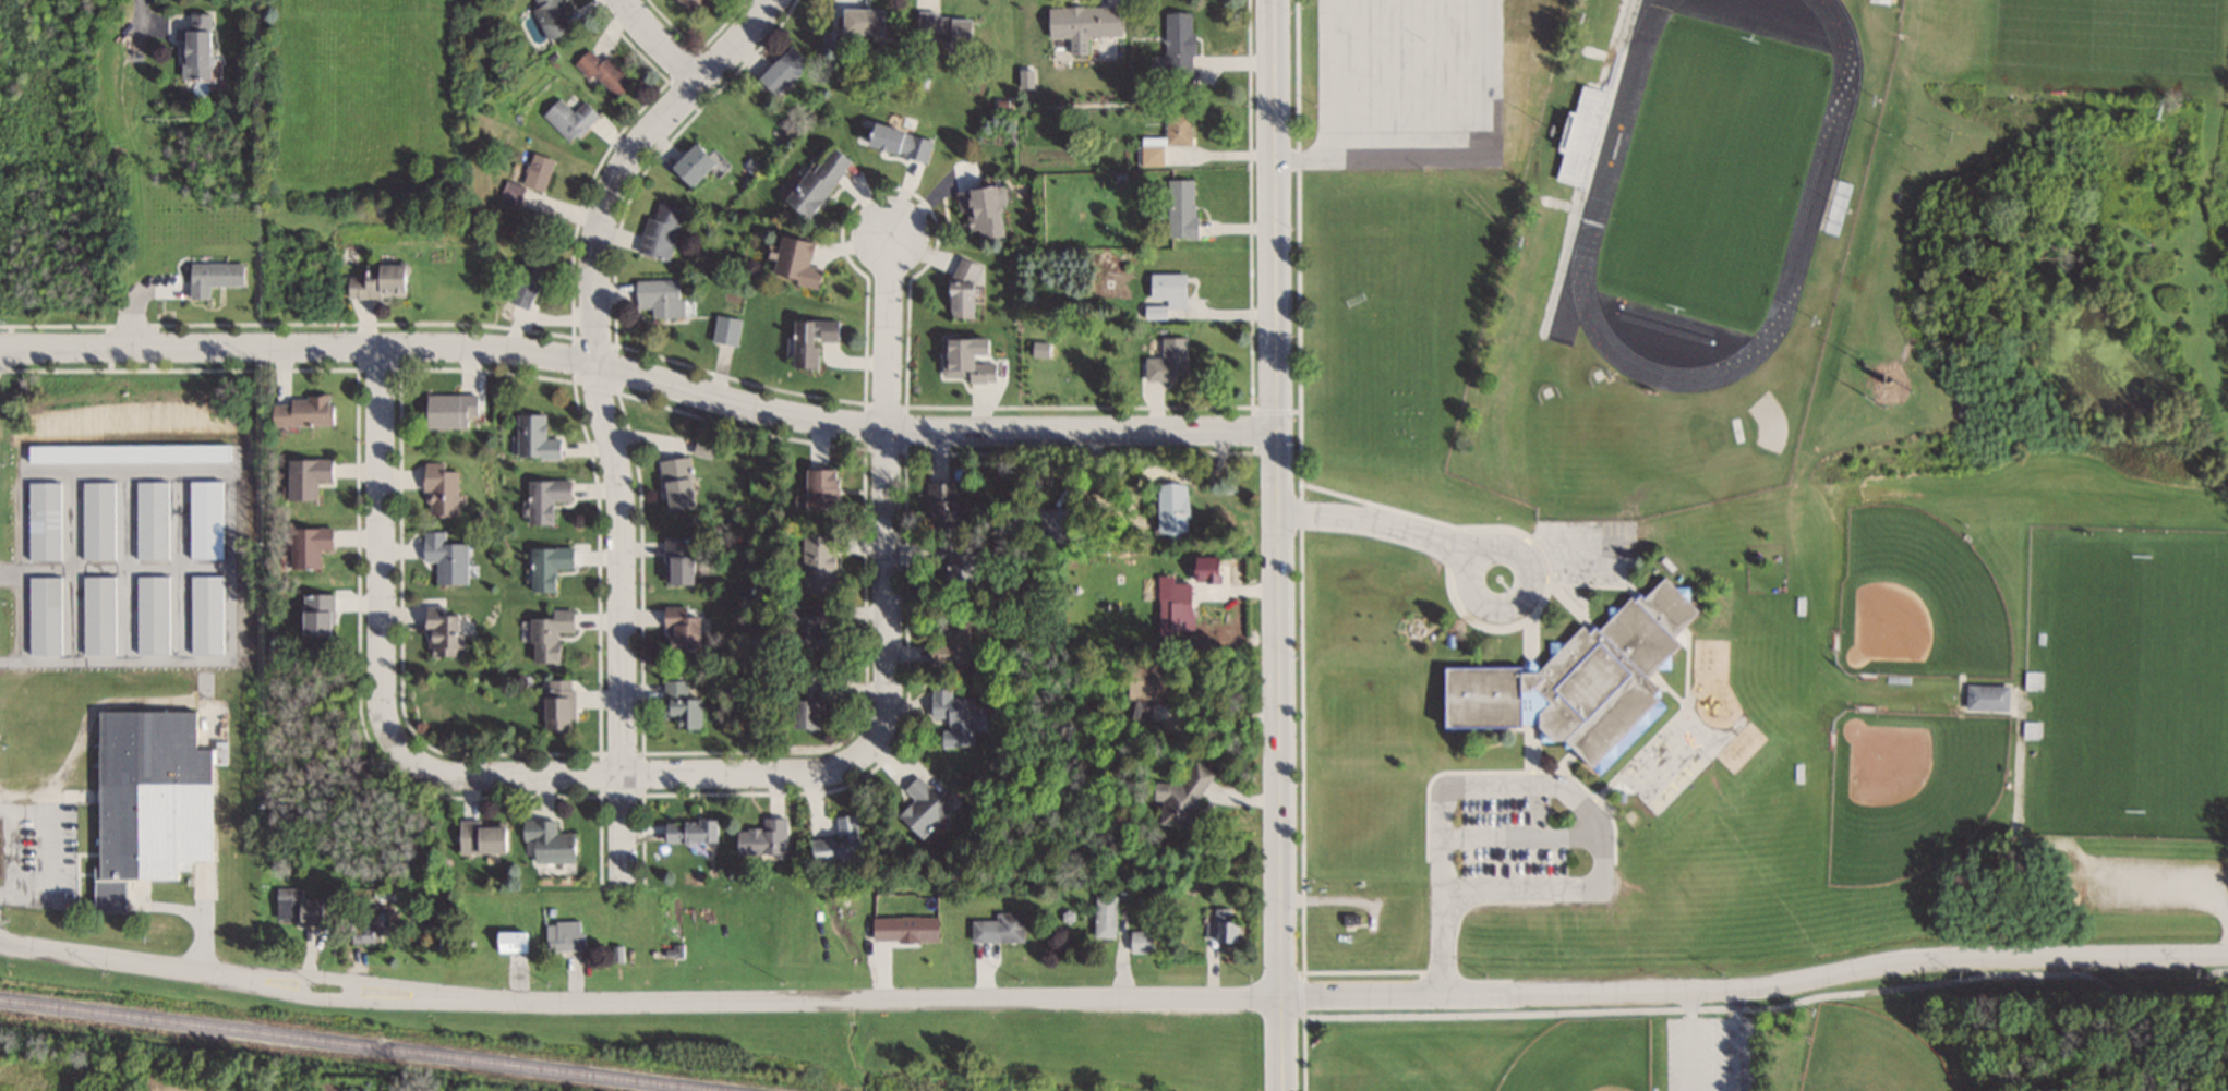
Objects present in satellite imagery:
building: (688, 4)
road: (139, 11)
building: (549, 17)
building: (1081, 22)
building: (852, 26)
building: (942, 26)
park: (2149, 35)
building: (1177, 41)
road: (659, 43)
building: (192, 45)
building: (781, 70)
building: (602, 73)
road: (1337, 77)
parking lot: (1408, 83)
building: (1586, 104)
building: (567, 118)
building: (1165, 137)
building: (895, 142)
road: (1453, 156)
building: (689, 163)
park: (1713, 172)
building: (526, 180)
building: (815, 181)
building: (1179, 208)
building: (979, 210)
building: (659, 230)
building: (792, 263)
building: (212, 277)
building: (374, 282)
building: (523, 283)
building: (960, 291)
building: (1164, 292)
building: (658, 296)
road: (134, 302)
park: (1371, 319)
building: (725, 330)
building: (808, 341)
road: (43, 350)
building: (1165, 361)
building: (962, 362)
road: (682, 387)
building: (446, 410)
road: (602, 410)
building: (296, 411)
building: (533, 437)
building: (304, 477)
building: (676, 483)
building: (819, 488)
building: (438, 490)
building: (1167, 497)
road: (1277, 498)
building: (544, 499)
building: (939, 506)
building: (40, 520)
building: (95, 520)
building: (149, 520)
road: (1371, 522)
building: (1051, 525)
building: (306, 546)
building: (444, 558)
building: (681, 561)
building: (815, 563)
building: (546, 566)
building: (954, 566)
park: (1916, 598)
road: (1506, 606)
building: (1175, 609)
building: (41, 615)
building: (96, 615)
building: (149, 615)
building: (203, 615)
building: (314, 615)
road: (890, 619)
building: (806, 626)
building: (438, 630)
building: (679, 630)
building: (547, 635)
building: (951, 644)
road: (380, 667)
building: (2037, 680)
building: (1575, 682)
park: (2137, 682)
building: (1985, 696)
building: (805, 702)
building: (555, 704)
building: (679, 705)
building: (951, 717)
building: (2034, 730)
park: (1908, 787)
building: (1179, 799)
building: (145, 800)
building: (919, 808)
building: (688, 833)
building: (477, 837)
building: (760, 839)
building: (546, 841)
building: (836, 844)
road: (2166, 876)
building: (296, 908)
building: (1104, 918)
building: (1219, 925)
building: (366, 926)
building: (902, 929)
building: (998, 929)
building: (563, 935)
building: (509, 942)
building: (1141, 942)
building: (671, 951)
road: (119, 959)
road: (340, 978)
road: (1336, 996)
road: (337, 998)
road: (1758, 1007)
park: (1803, 1037)
road: (1281, 1044)
park: (1868, 1054)
park: (1582, 1057)

